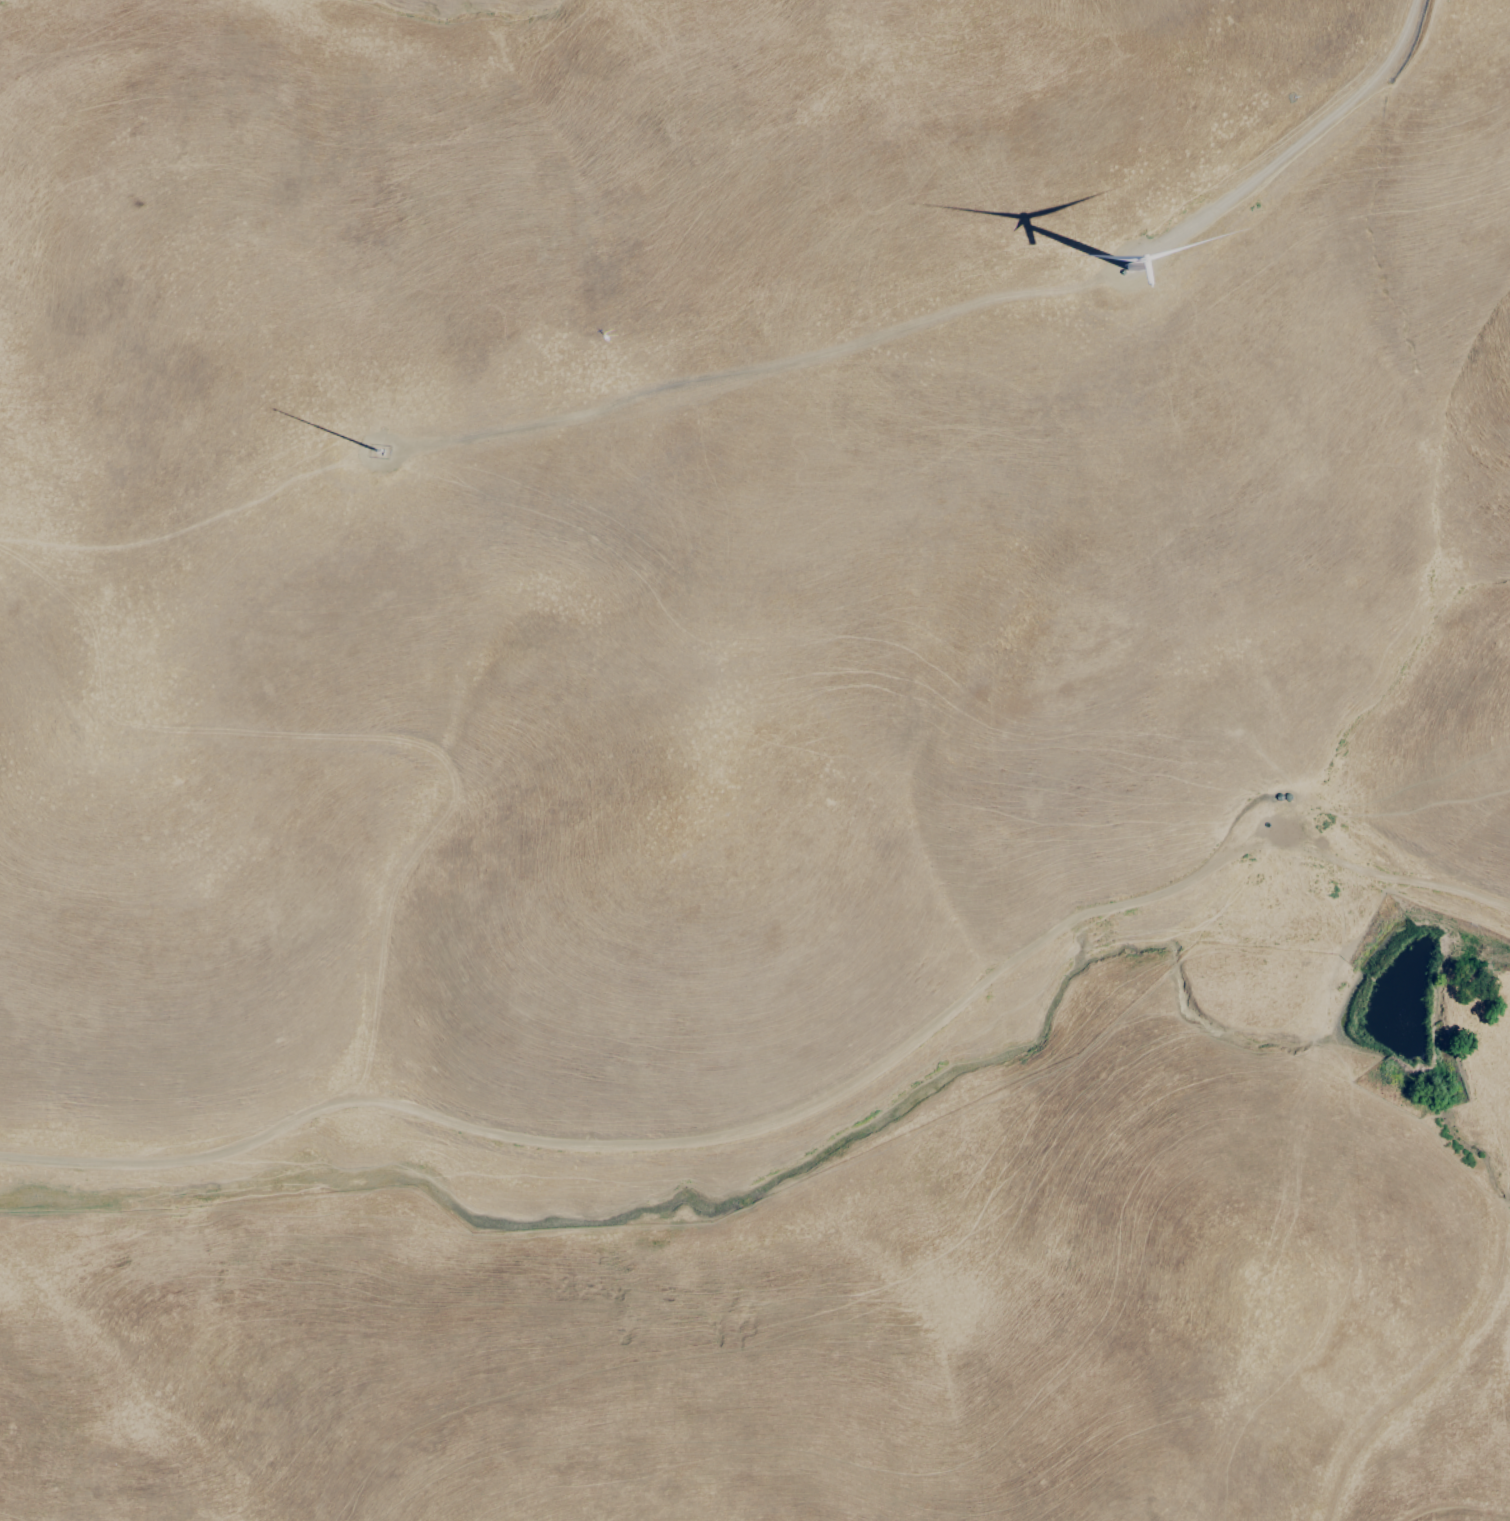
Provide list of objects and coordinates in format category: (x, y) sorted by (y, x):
road: (1301, 146)
wind turbine: (1132, 264)
road: (381, 745)
road: (1319, 808)
road: (781, 1117)
road: (1509, 1145)
road: (1507, 1167)
road: (1444, 1369)

